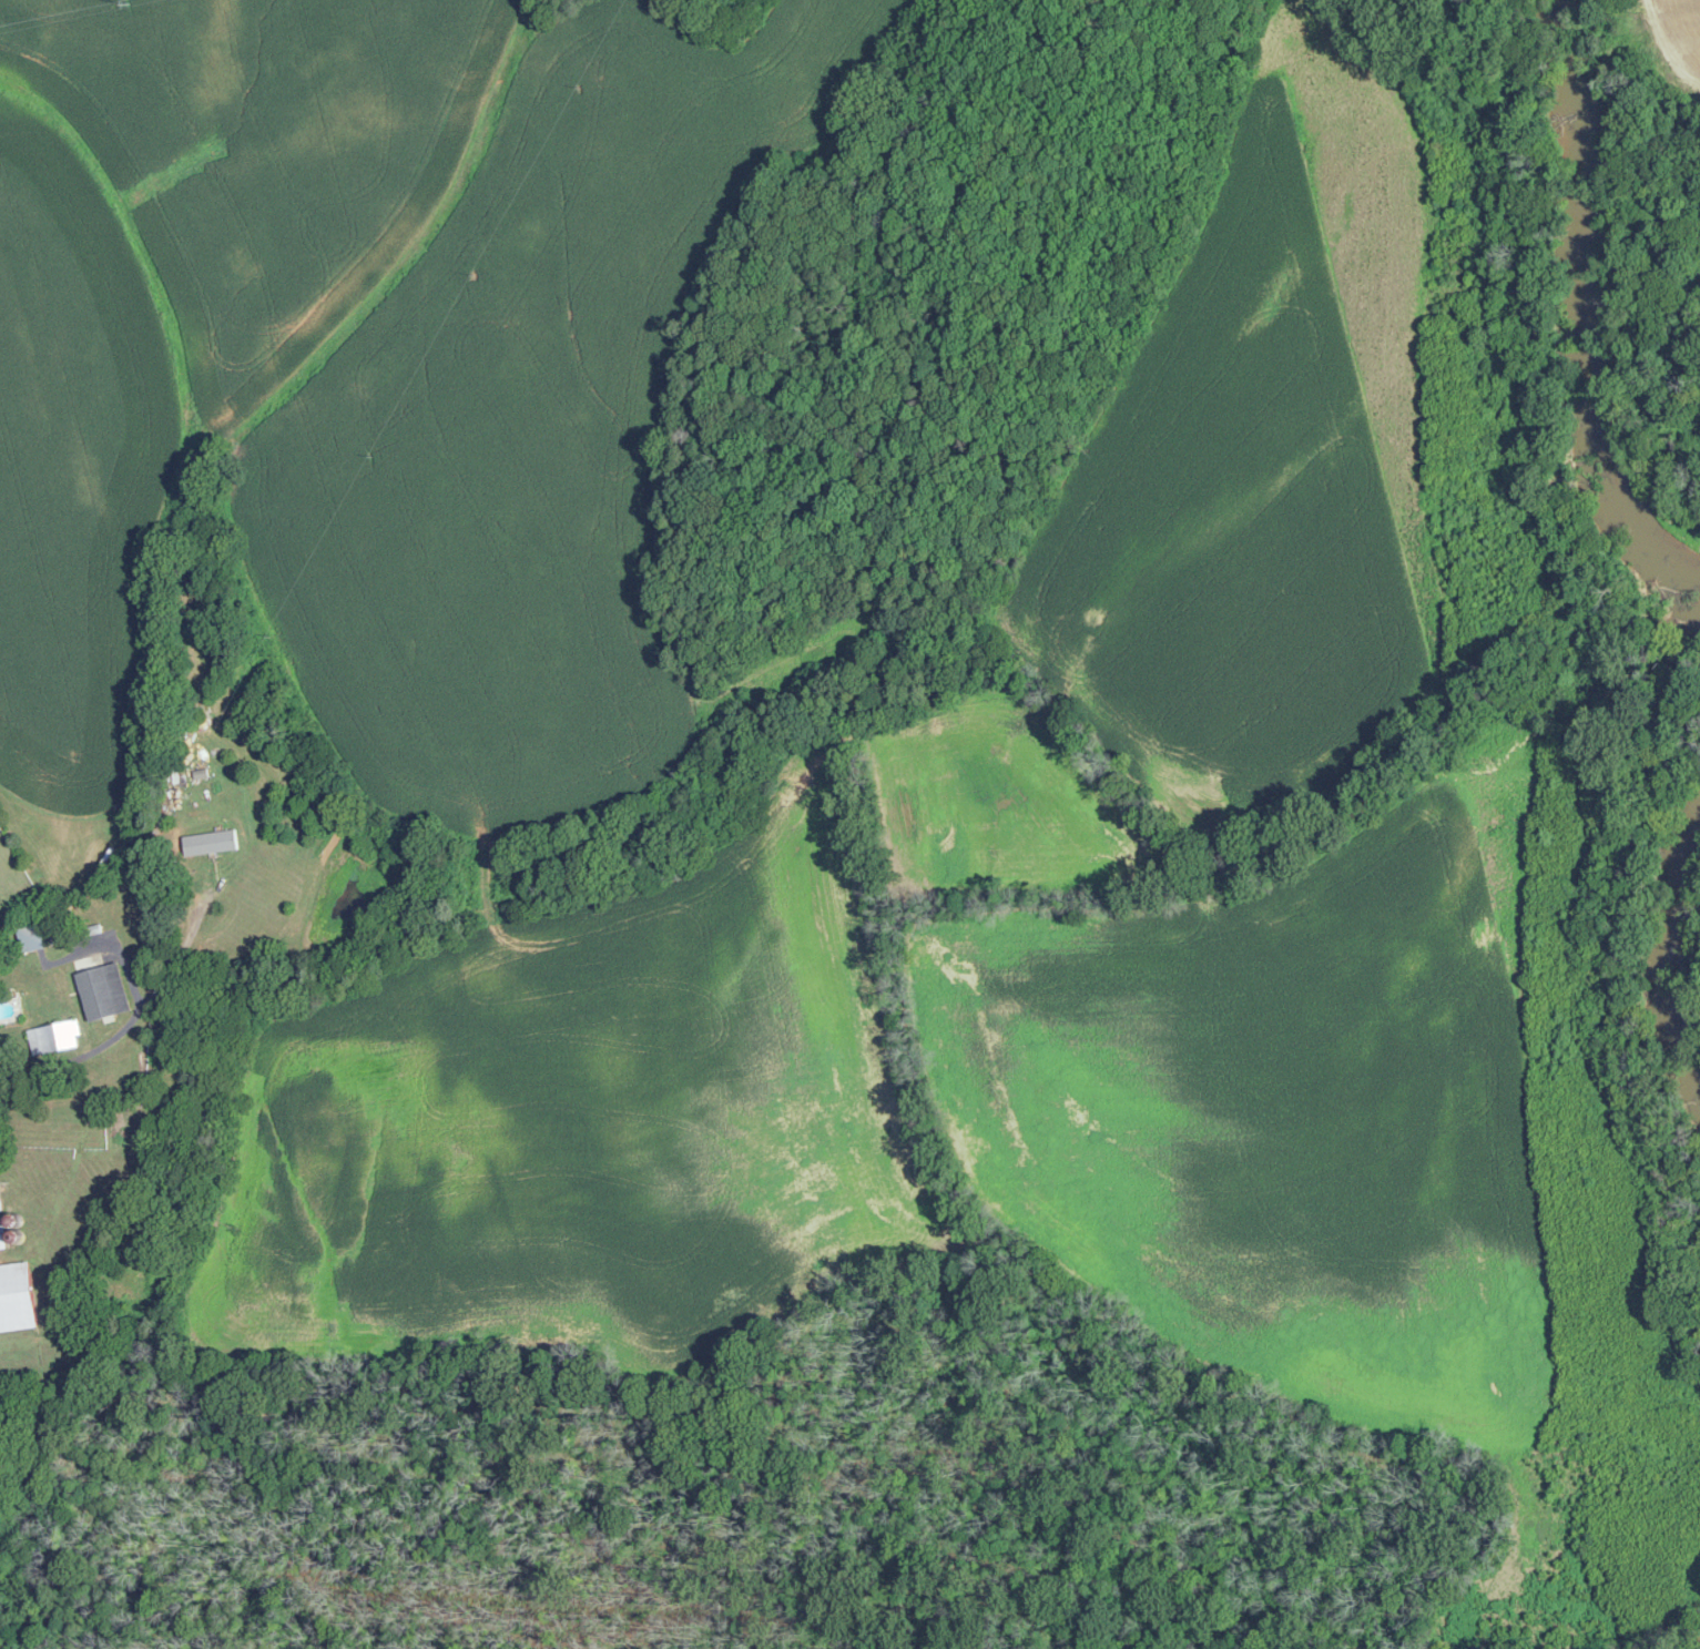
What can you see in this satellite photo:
river: (1556, 303)
building: (210, 843)
river: (1672, 928)
building: (30, 937)
building: (103, 993)
road: (132, 1018)
building: (53, 1038)
building: (0, 1209)
building: (2, 1239)
building: (16, 1299)

